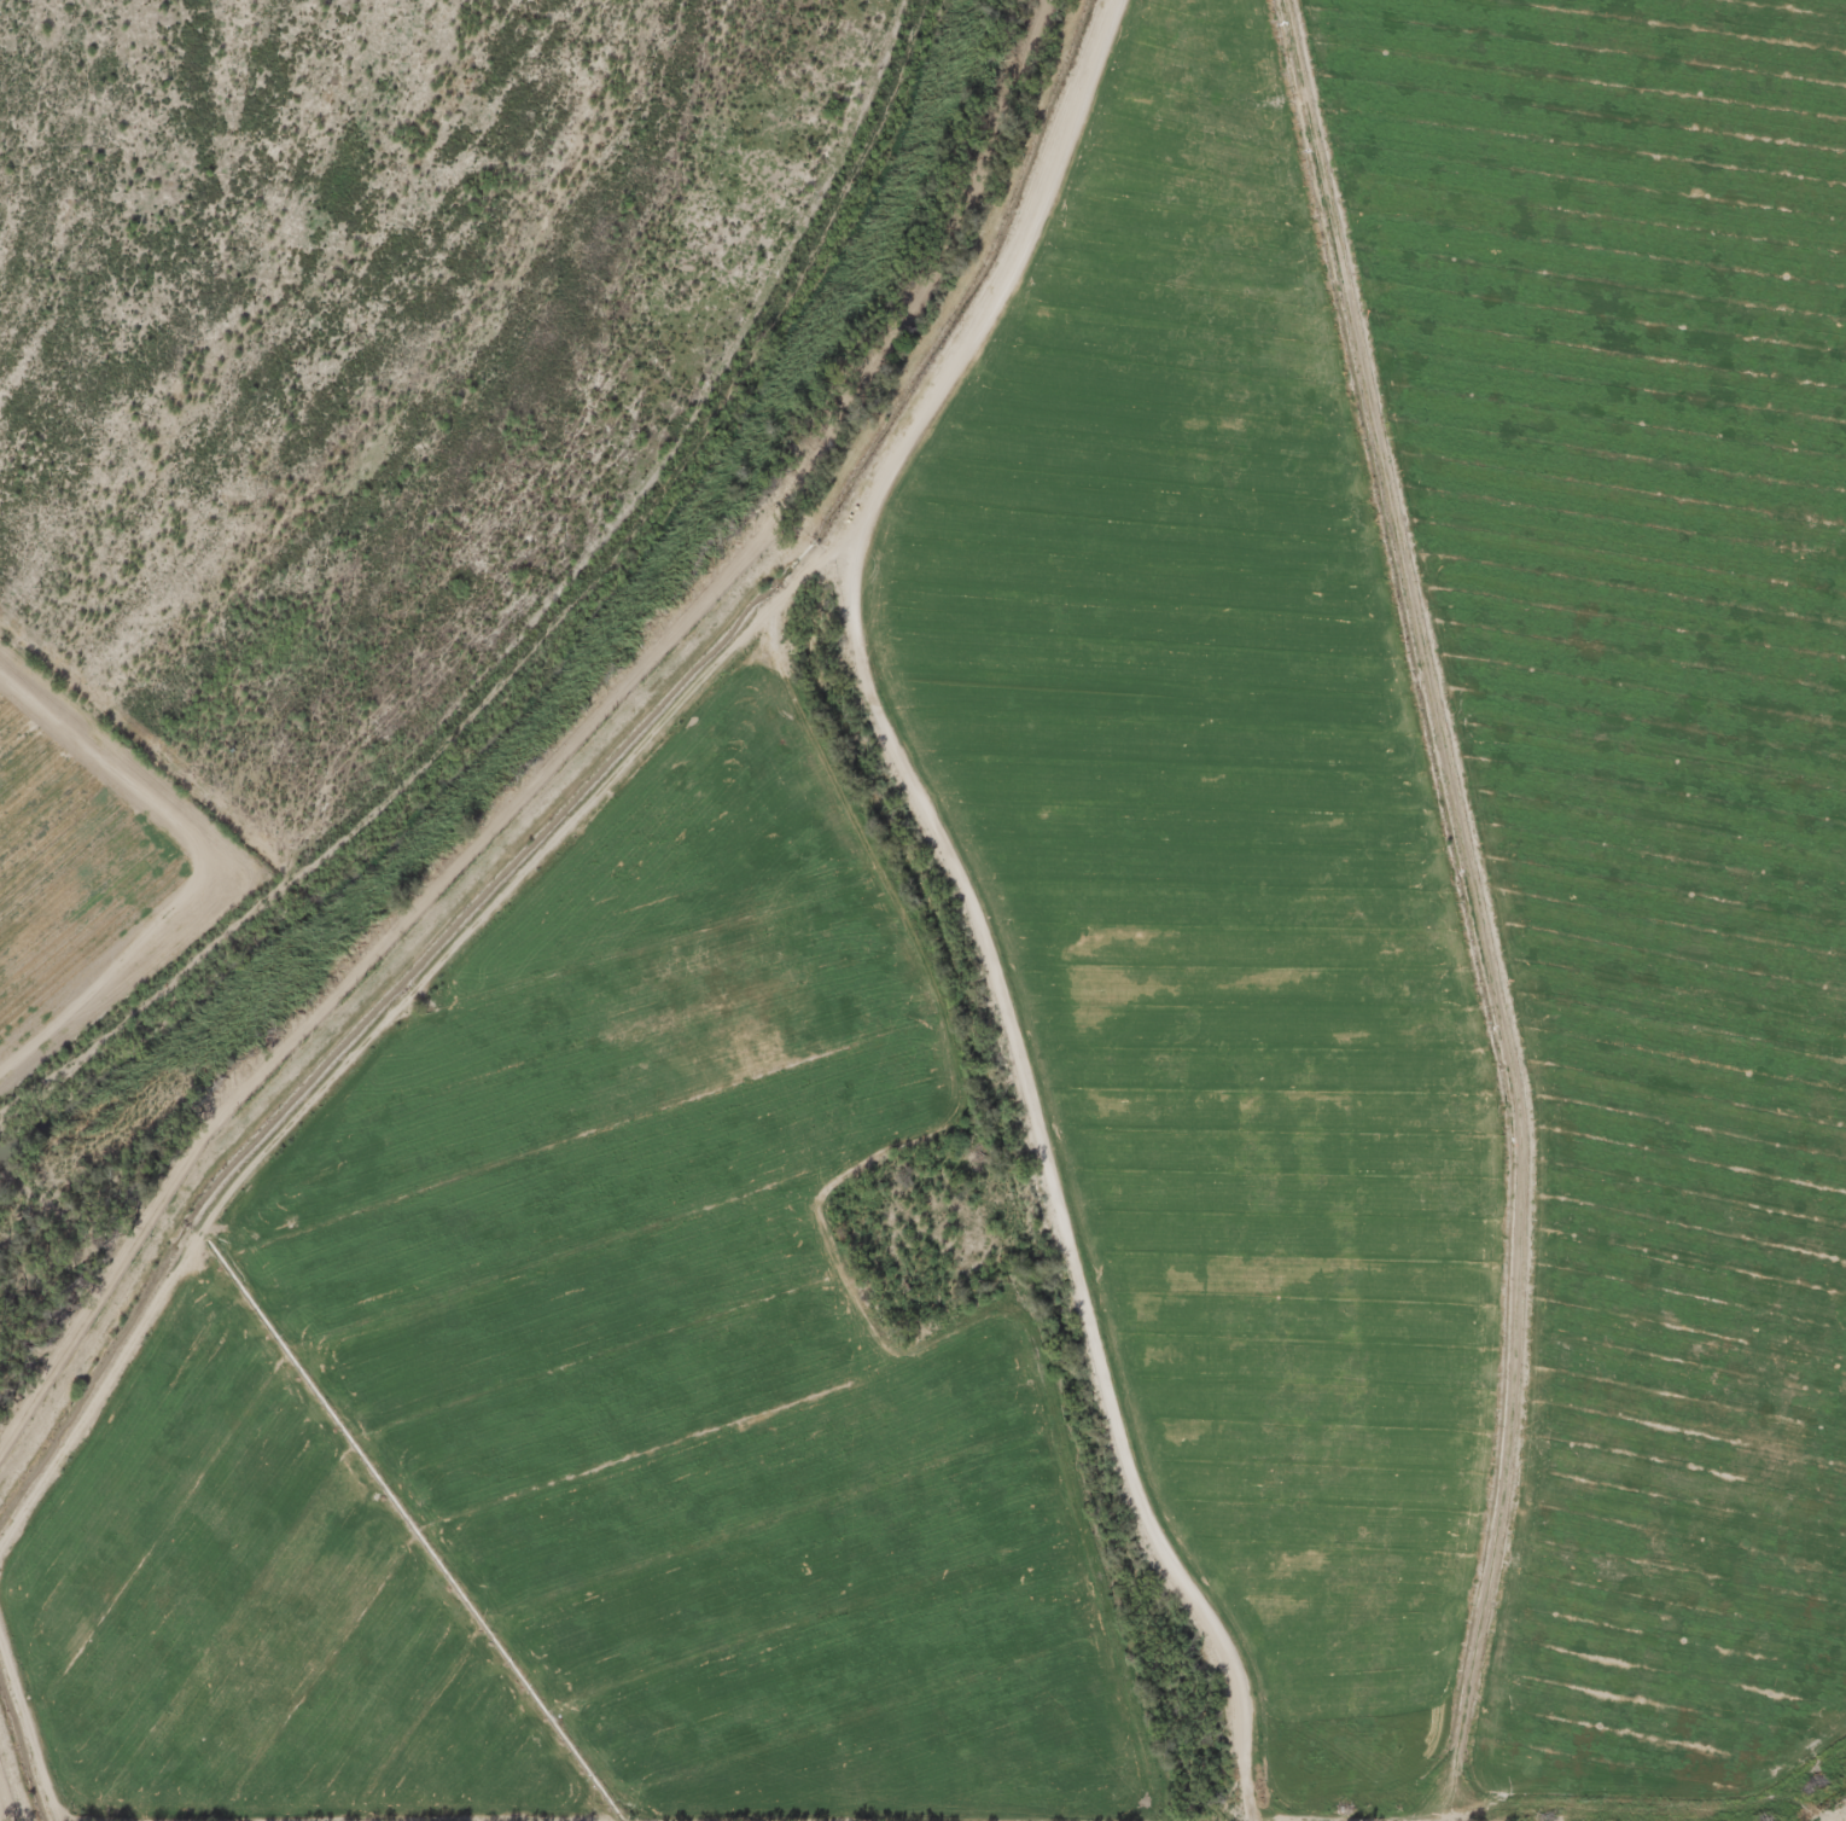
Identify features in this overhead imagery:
road: (558, 638)
road: (971, 895)

